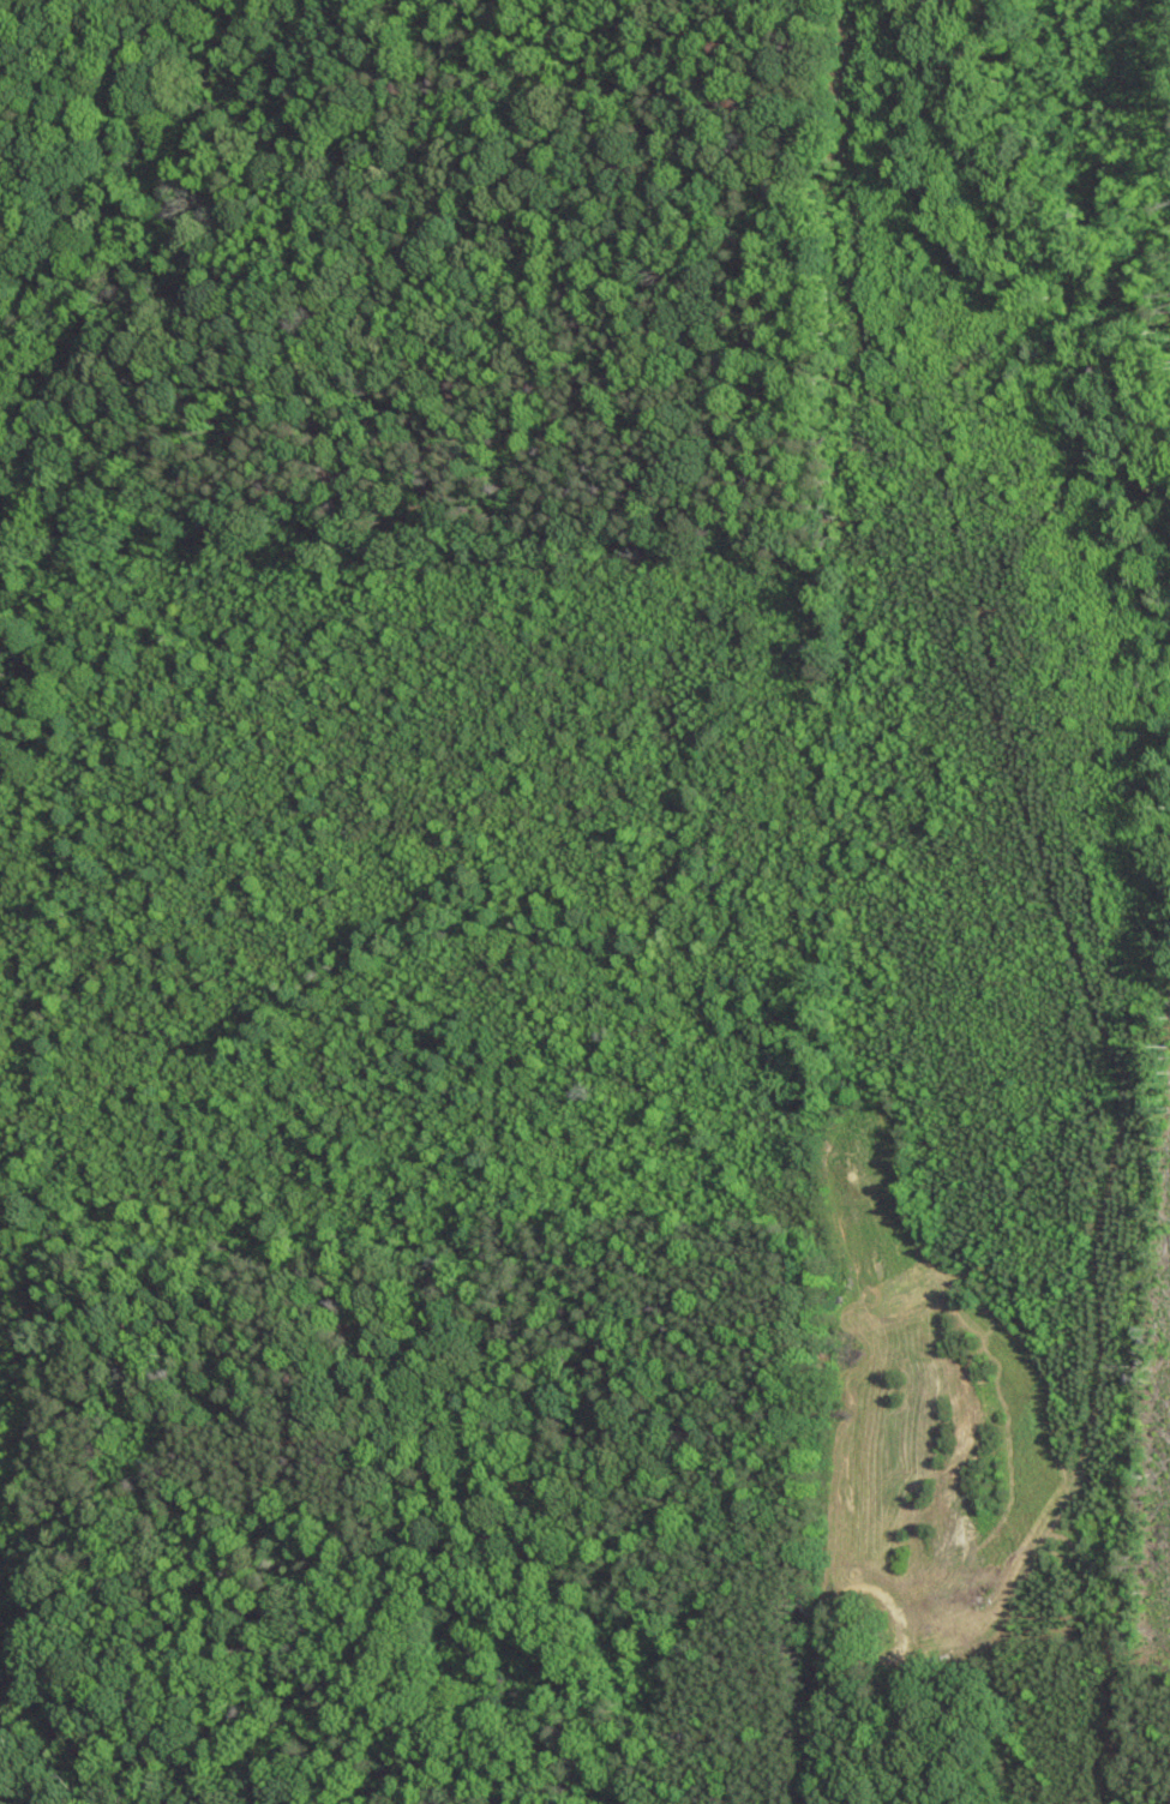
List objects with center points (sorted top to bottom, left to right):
park: (413, 655)

